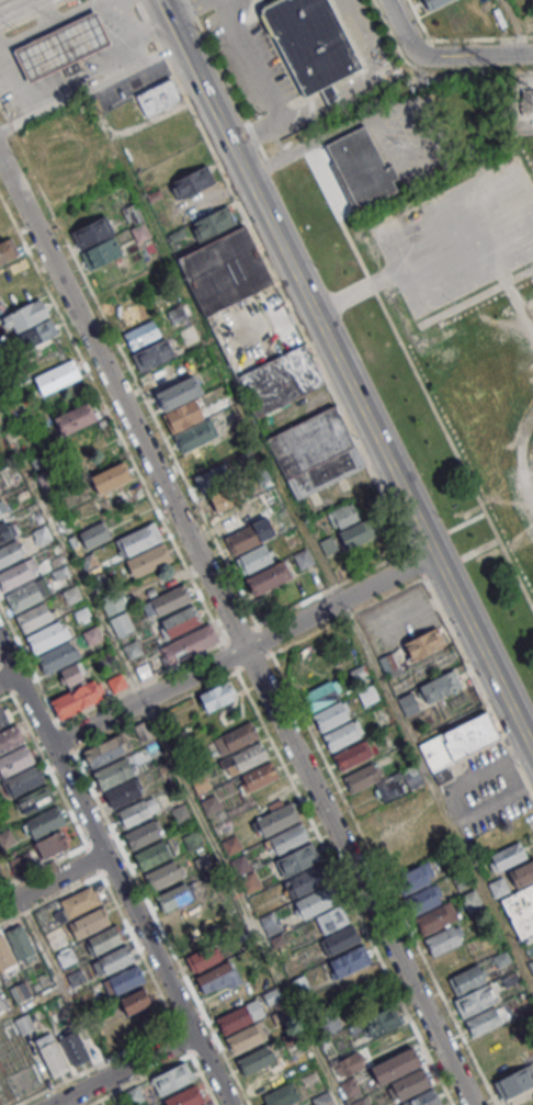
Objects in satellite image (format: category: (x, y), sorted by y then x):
road: (189, 8)
building: (444, 12)
road: (47, 14)
road: (32, 15)
road: (60, 25)
road: (150, 29)
road: (178, 29)
road: (124, 32)
road: (409, 33)
building: (311, 42)
building: (64, 47)
road: (484, 54)
road: (370, 78)
road: (18, 80)
road: (230, 82)
road: (264, 83)
road: (91, 88)
building: (158, 98)
road: (336, 134)
building: (365, 168)
building: (192, 182)
road: (519, 205)
building: (213, 222)
building: (91, 232)
parking lot: (458, 235)
building: (8, 250)
building: (101, 252)
street lamp: (529, 263)
road: (275, 274)
road: (368, 286)
street lamp: (396, 291)
road: (511, 292)
road: (475, 296)
street lamp: (452, 302)
building: (32, 314)
building: (131, 314)
street lamp: (517, 319)
building: (247, 324)
building: (37, 334)
park: (455, 346)
building: (154, 353)
road: (419, 375)
building: (60, 377)
road: (362, 399)
building: (180, 403)
building: (80, 418)
street lamp: (513, 441)
building: (199, 446)
building: (315, 452)
road: (520, 459)
building: (214, 476)
building: (105, 481)
building: (226, 499)
building: (2, 511)
building: (235, 517)
road: (469, 521)
building: (352, 526)
building: (7, 534)
building: (94, 534)
building: (243, 538)
building: (139, 539)
road: (431, 540)
building: (329, 545)
road: (483, 549)
building: (12, 555)
building: (254, 559)
building: (303, 559)
building: (148, 560)
road: (420, 563)
road: (444, 567)
building: (18, 576)
building: (268, 577)
building: (26, 597)
building: (115, 601)
building: (167, 601)
building: (37, 618)
building: (180, 621)
building: (122, 623)
road: (233, 627)
building: (48, 638)
building: (424, 643)
building: (189, 644)
road: (247, 647)
building: (134, 650)
building: (58, 658)
building: (388, 661)
building: (73, 673)
road: (9, 677)
road: (4, 678)
road: (479, 685)
road: (21, 688)
road: (27, 688)
building: (430, 691)
road: (8, 695)
building: (217, 695)
building: (320, 696)
building: (76, 699)
building: (3, 715)
building: (331, 715)
building: (342, 734)
building: (236, 737)
building: (11, 738)
building: (458, 741)
building: (105, 751)
building: (352, 755)
road: (173, 757)
building: (245, 758)
building: (15, 759)
building: (257, 777)
building: (362, 777)
building: (24, 780)
building: (118, 782)
building: (398, 782)
road: (439, 789)
building: (270, 797)
building: (35, 799)
road: (65, 801)
road: (349, 803)
building: (138, 811)
building: (2, 814)
building: (384, 814)
building: (45, 822)
building: (282, 827)
building: (144, 833)
building: (7, 838)
building: (54, 843)
building: (400, 845)
building: (152, 854)
building: (507, 856)
building: (297, 859)
building: (22, 864)
building: (240, 865)
building: (165, 875)
building: (415, 878)
building: (308, 879)
road: (11, 880)
road: (52, 880)
building: (250, 881)
road: (3, 884)
building: (498, 887)
building: (174, 897)
building: (520, 899)
building: (80, 901)
building: (316, 901)
building: (430, 909)
building: (331, 920)
building: (89, 923)
building: (271, 923)
road: (139, 925)
road: (133, 938)
building: (340, 939)
building: (444, 939)
building: (58, 940)
building: (104, 940)
building: (20, 941)
building: (5, 956)
building: (205, 956)
building: (66, 957)
building: (350, 960)
building: (111, 961)
road: (63, 979)
building: (218, 979)
building: (467, 979)
building: (124, 981)
building: (14, 994)
building: (476, 1000)
building: (135, 1001)
building: (240, 1016)
building: (485, 1019)
building: (381, 1022)
building: (24, 1024)
building: (246, 1037)
building: (72, 1045)
building: (52, 1053)
building: (254, 1059)
building: (353, 1060)
building: (395, 1064)
road: (123, 1070)
building: (172, 1078)
building: (268, 1079)
building: (514, 1082)
building: (408, 1084)
building: (281, 1095)
building: (134, 1096)
building: (185, 1096)
building: (424, 1098)
building: (205, 1104)

